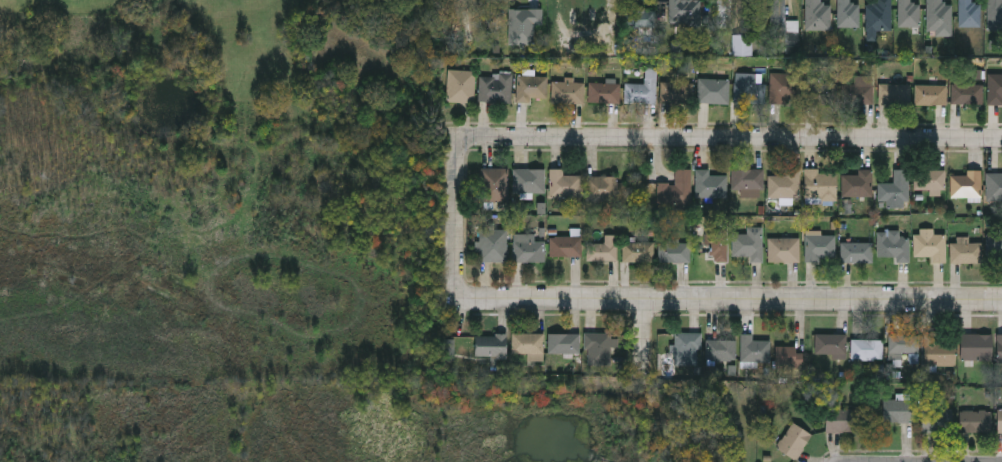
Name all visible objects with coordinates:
building: (684, 12)
building: (721, 12)
building: (848, 13)
building: (908, 13)
building: (969, 13)
building: (879, 14)
building: (939, 14)
building: (995, 14)
building: (818, 15)
building: (640, 17)
building: (749, 21)
building: (524, 26)
building: (782, 28)
building: (461, 85)
building: (496, 87)
building: (532, 87)
building: (750, 88)
building: (786, 88)
building: (995, 88)
building: (714, 90)
building: (568, 91)
building: (605, 91)
building: (643, 91)
building: (822, 91)
building: (678, 92)
building: (858, 93)
building: (895, 93)
building: (967, 93)
building: (931, 94)
road: (742, 136)
building: (528, 179)
building: (930, 179)
building: (748, 180)
building: (564, 182)
building: (495, 183)
building: (711, 183)
building: (785, 183)
building: (858, 183)
building: (820, 184)
building: (967, 184)
building: (994, 185)
building: (602, 186)
building: (677, 188)
building: (895, 189)
road: (461, 204)
building: (749, 243)
building: (493, 244)
building: (930, 244)
building: (566, 245)
building: (719, 246)
building: (528, 247)
building: (822, 247)
building: (995, 247)
building: (603, 248)
building: (785, 248)
building: (895, 249)
building: (639, 250)
building: (676, 251)
building: (857, 251)
building: (967, 251)
road: (727, 298)
road: (646, 334)
building: (563, 342)
building: (528, 344)
building: (831, 344)
building: (902, 344)
building: (490, 345)
building: (976, 345)
building: (688, 346)
building: (754, 347)
building: (1000, 347)
building: (599, 348)
building: (721, 348)
building: (867, 348)
building: (940, 349)
building: (788, 355)
building: (898, 409)
building: (842, 419)
building: (937, 419)
building: (975, 420)
building: (1000, 420)
building: (794, 440)

